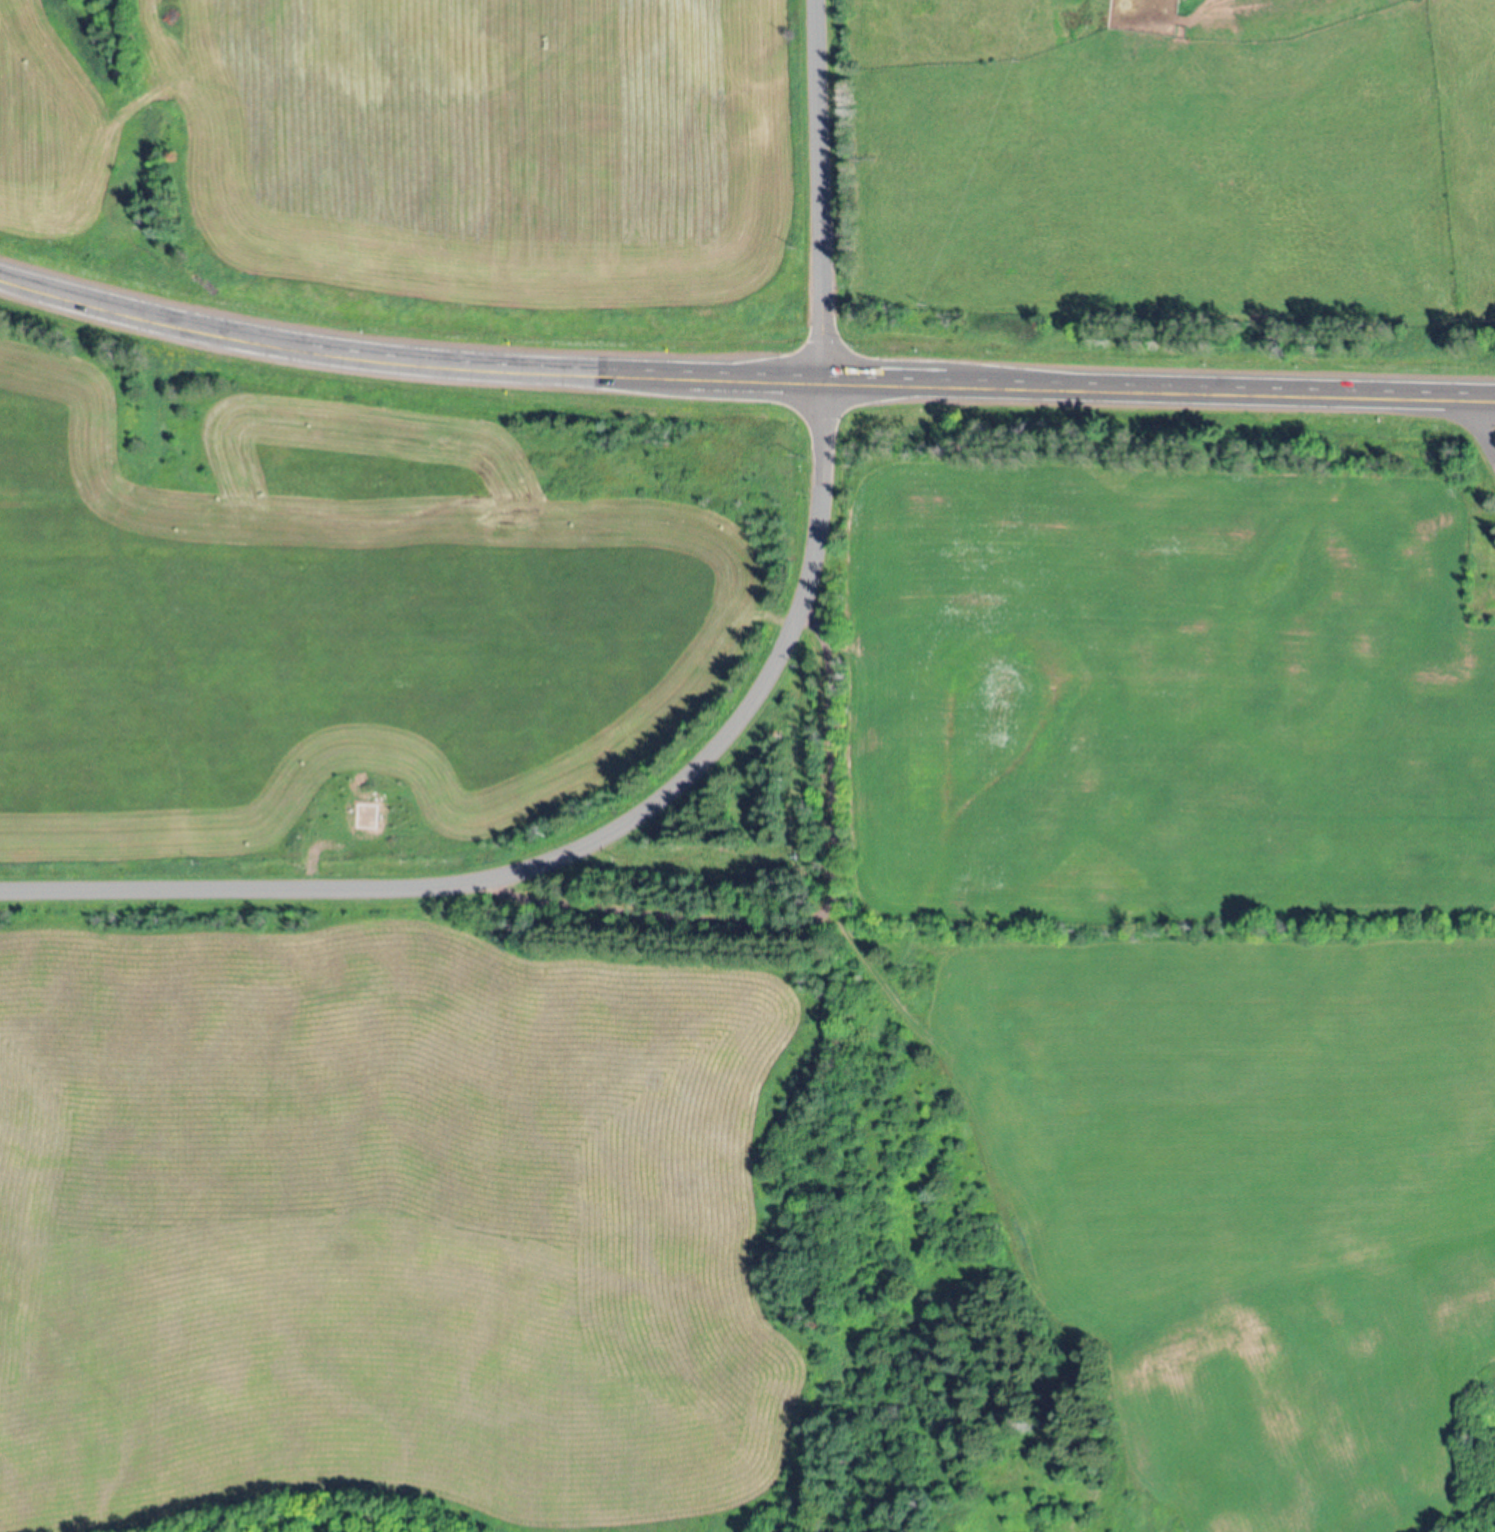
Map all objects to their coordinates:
road: (819, 191)
road: (104, 307)
road: (851, 382)
road: (1479, 427)
park: (1480, 515)
crop: (360, 604)
road: (570, 854)
road: (830, 928)
road: (1008, 1224)

